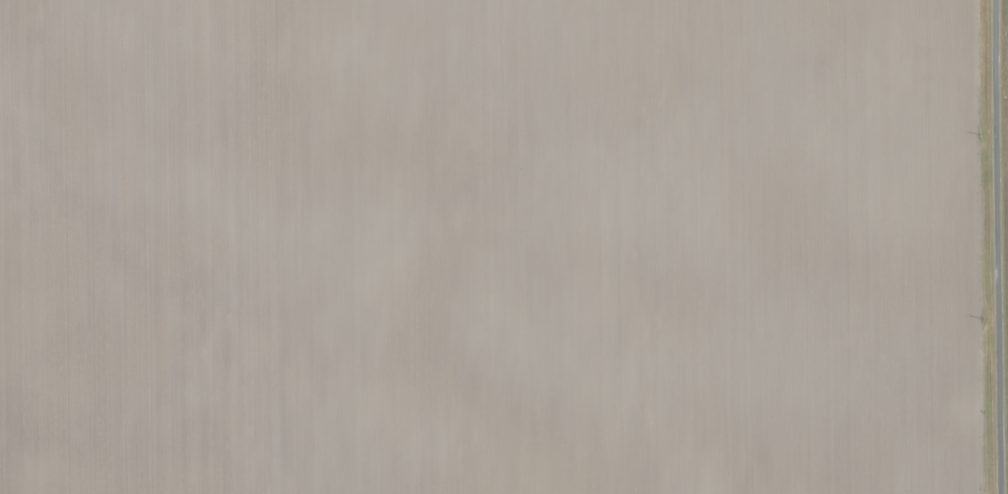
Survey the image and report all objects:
road: (1002, 247)

